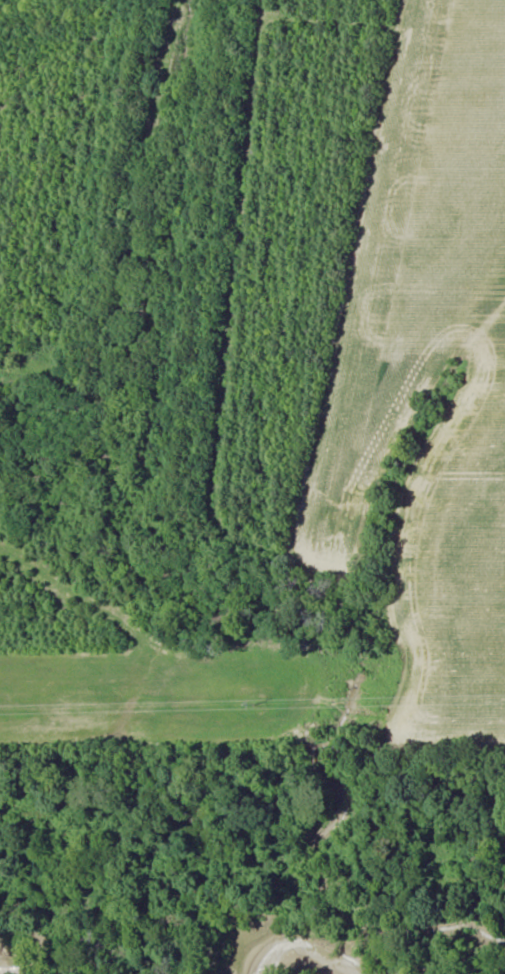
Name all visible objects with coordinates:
power tower: (264, 701)

